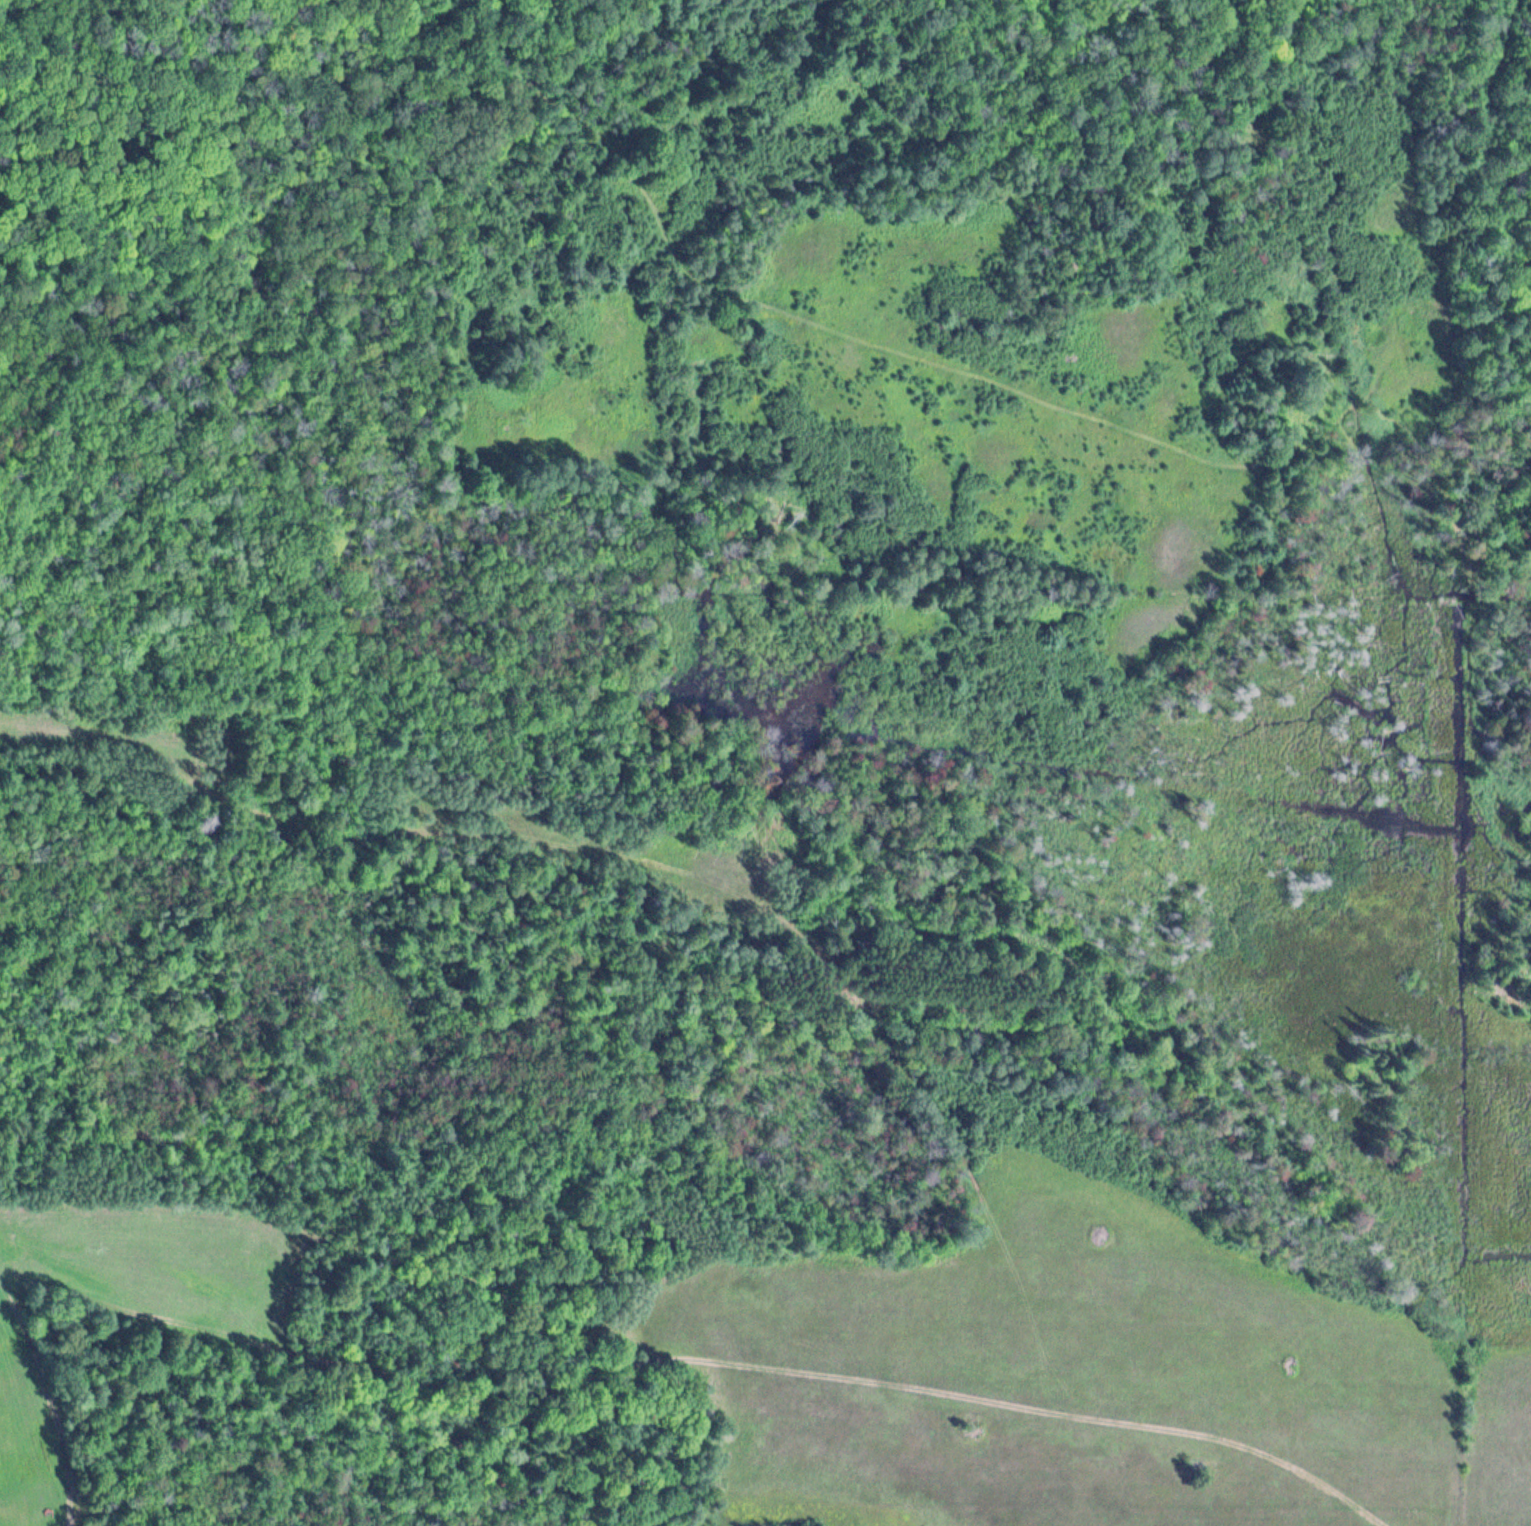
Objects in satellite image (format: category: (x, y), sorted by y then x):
road: (46, 1405)

